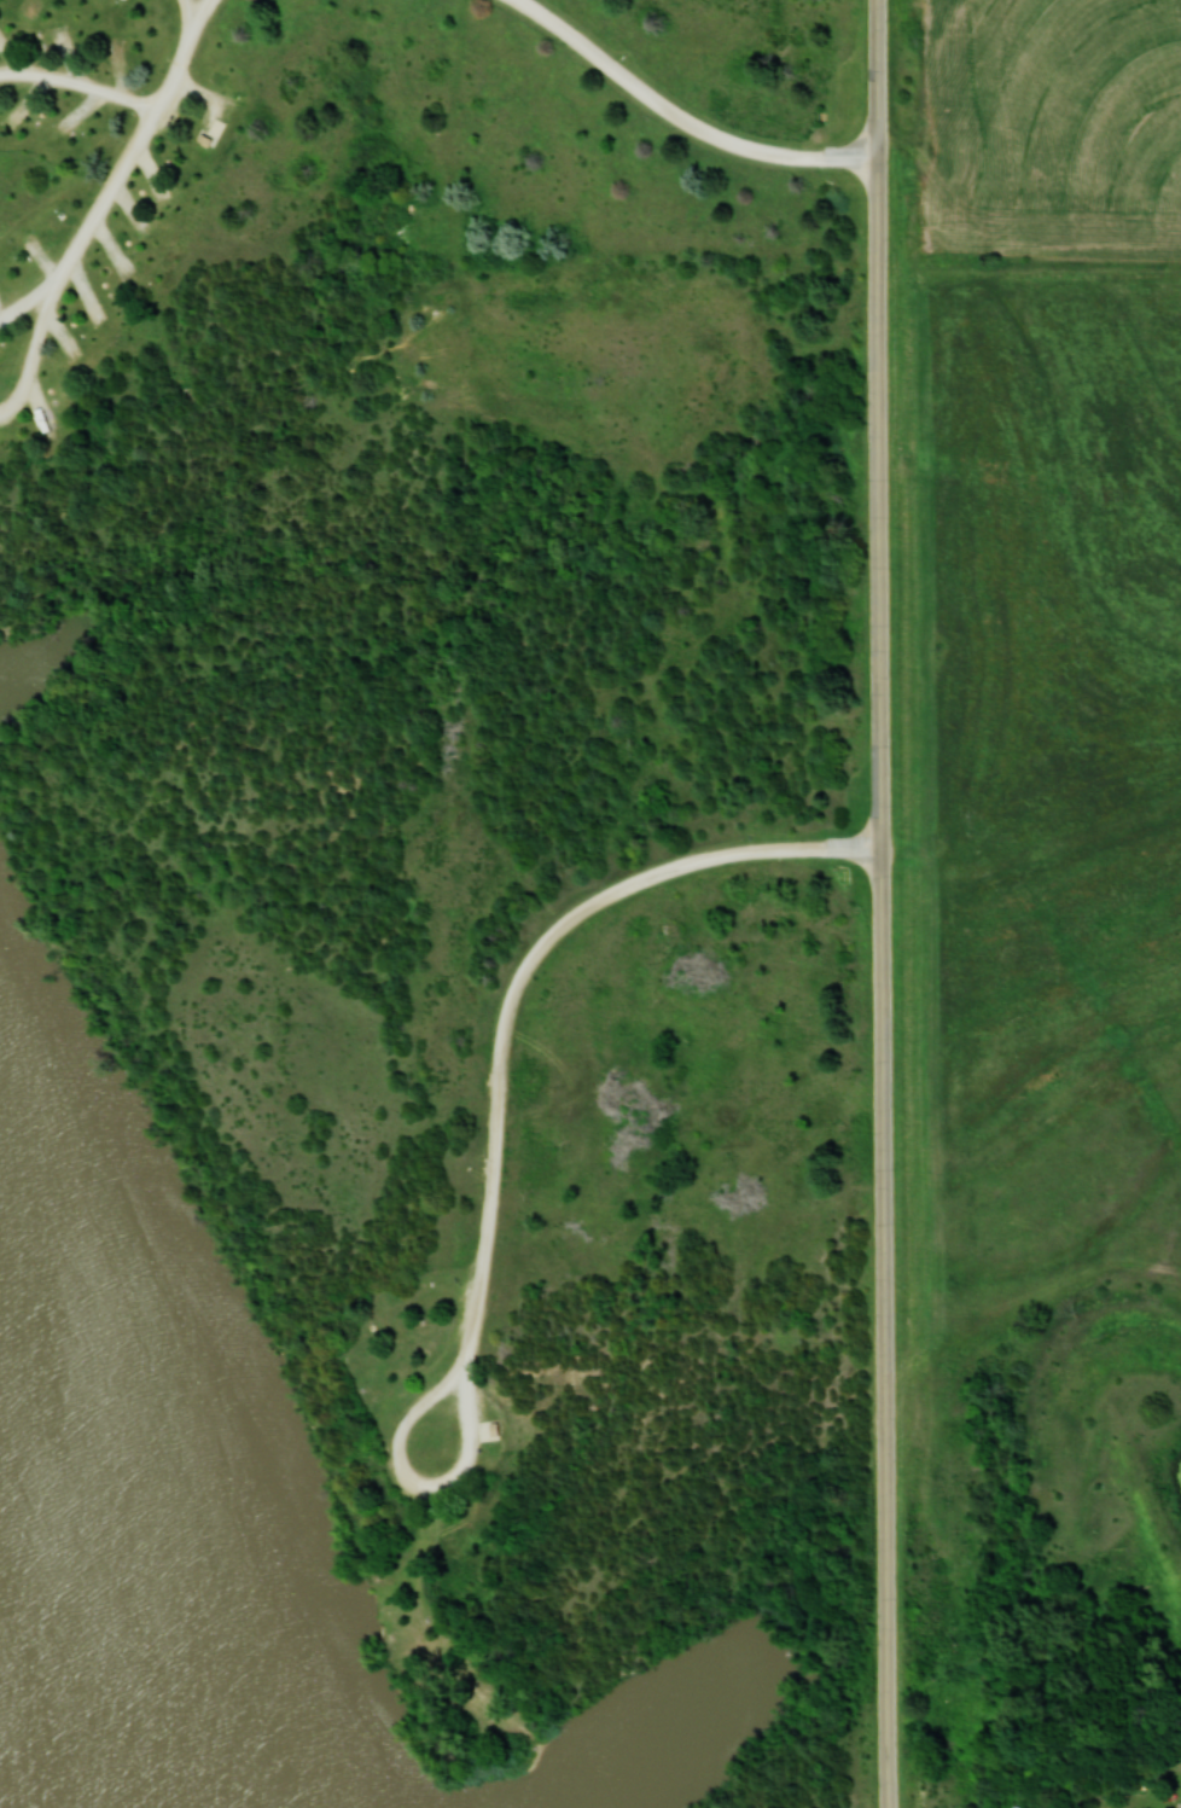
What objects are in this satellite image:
road: (186, 16)
road: (80, 81)
road: (683, 120)
road: (135, 145)
road: (42, 327)
road: (885, 903)
park: (443, 905)
road: (528, 975)
building: (489, 1429)
dam: (1180, 1467)
road: (454, 1478)

